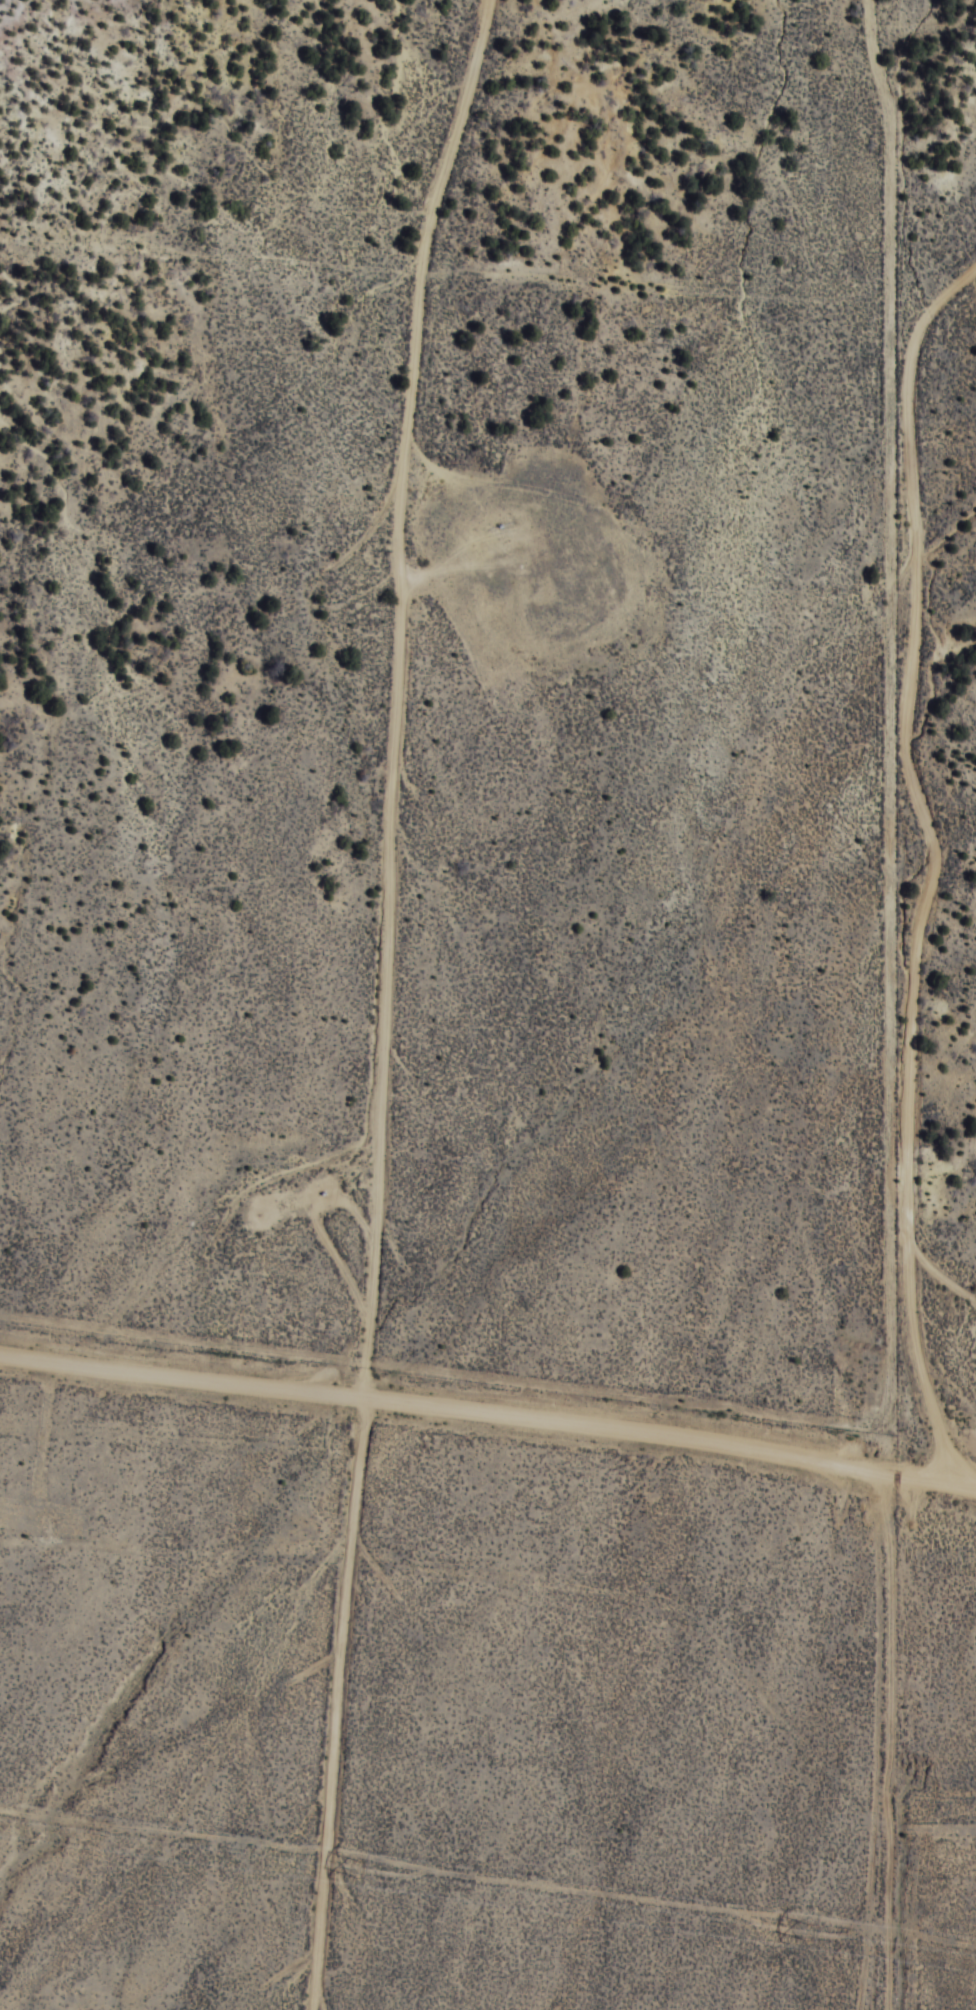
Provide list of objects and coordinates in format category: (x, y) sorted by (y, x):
road: (382, 1403)
road: (871, 1461)
road: (279, 1611)
road: (186, 1845)
power tower: (358, 1866)
power tower: (810, 1931)

